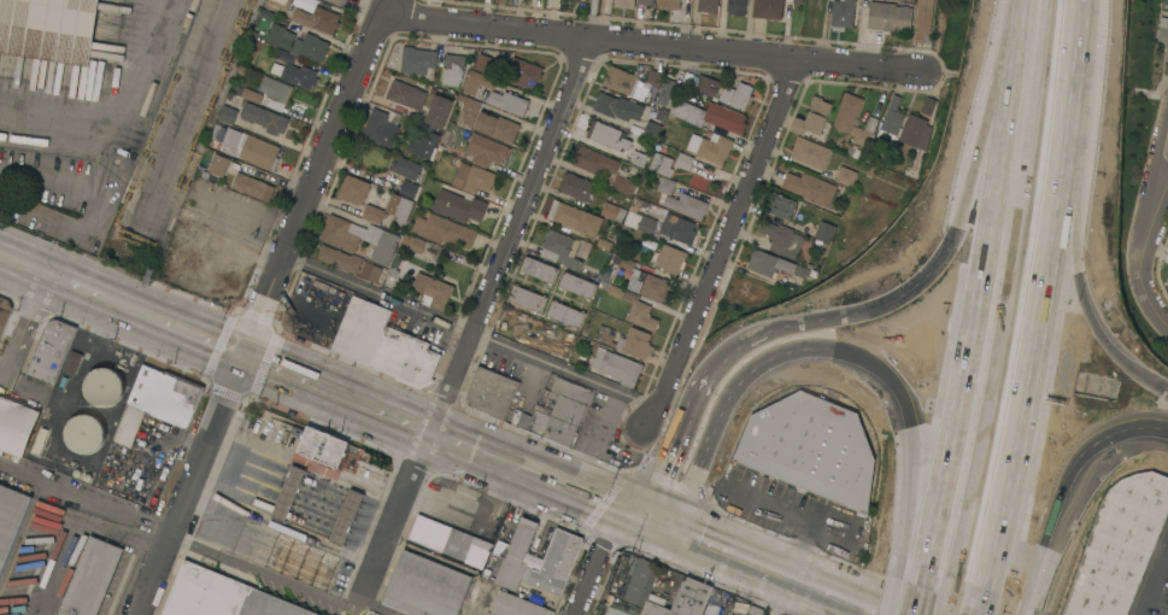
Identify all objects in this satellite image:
building: (645, 1)
building: (798, 1)
building: (281, 2)
building: (338, 2)
building: (624, 4)
building: (669, 4)
building: (708, 6)
building: (736, 6)
building: (768, 8)
building: (841, 13)
building: (888, 16)
building: (317, 18)
building: (923, 20)
building: (48, 29)
building: (1163, 33)
building: (297, 42)
road: (653, 45)
building: (284, 55)
building: (418, 61)
building: (483, 63)
building: (452, 69)
building: (522, 72)
road: (940, 72)
building: (295, 74)
building: (477, 82)
building: (632, 82)
building: (708, 86)
building: (268, 93)
building: (665, 93)
building: (743, 95)
road: (1150, 95)
building: (405, 96)
building: (507, 101)
building: (927, 105)
building: (617, 106)
building: (466, 110)
building: (439, 111)
road: (988, 111)
building: (847, 112)
building: (228, 113)
building: (709, 115)
building: (812, 116)
building: (264, 117)
building: (891, 119)
building: (380, 124)
road: (130, 125)
building: (497, 127)
building: (652, 129)
building: (912, 129)
building: (864, 131)
building: (608, 134)
building: (425, 145)
building: (247, 146)
building: (711, 146)
road: (1156, 147)
building: (486, 150)
building: (811, 152)
building: (638, 158)
building: (593, 159)
building: (683, 160)
building: (218, 164)
building: (661, 164)
building: (406, 168)
building: (846, 175)
building: (474, 177)
road: (313, 181)
road: (1163, 181)
building: (624, 183)
building: (664, 184)
building: (576, 186)
building: (253, 187)
building: (810, 187)
building: (353, 189)
building: (410, 189)
road: (1079, 192)
road: (94, 205)
building: (459, 205)
building: (687, 205)
building: (782, 205)
building: (388, 209)
building: (612, 211)
building: (575, 217)
building: (642, 223)
building: (677, 228)
building: (444, 229)
building: (824, 230)
building: (359, 238)
building: (780, 238)
building: (412, 242)
road: (723, 244)
building: (564, 248)
building: (339, 258)
building: (670, 258)
building: (622, 260)
road: (1137, 260)
building: (769, 263)
building: (204, 268)
building: (539, 269)
building: (370, 271)
building: (1167, 280)
building: (576, 285)
building: (650, 285)
road: (61, 288)
building: (433, 291)
building: (773, 291)
road: (377, 293)
building: (527, 298)
road: (994, 298)
road: (1035, 304)
building: (635, 306)
road: (481, 309)
road: (874, 309)
building: (4, 314)
building: (565, 314)
road: (22, 329)
building: (360, 329)
road: (181, 339)
building: (630, 341)
road: (810, 345)
building: (51, 350)
building: (405, 357)
building: (72, 362)
traffic signals: (237, 363)
building: (616, 365)
road: (564, 370)
road: (1150, 377)
building: (104, 386)
storage tank: (104, 386)
road: (23, 387)
traffic signals: (900, 391)
building: (491, 392)
road: (334, 398)
building: (157, 400)
building: (562, 412)
road: (683, 423)
building: (16, 426)
road: (1110, 430)
building: (84, 433)
storage tank: (84, 433)
building: (40, 440)
building: (322, 445)
building: (811, 447)
road: (694, 471)
road: (535, 478)
road: (926, 486)
road: (187, 488)
building: (287, 493)
building: (345, 516)
building: (10, 519)
traffic signals: (639, 521)
road: (803, 522)
road: (72, 529)
building: (429, 532)
road: (1028, 538)
building: (1119, 545)
building: (477, 551)
building: (516, 555)
road: (595, 557)
building: (556, 562)
road: (750, 563)
building: (90, 578)
building: (640, 581)
building: (425, 586)
road: (1155, 586)
building: (221, 596)
building: (680, 599)
road: (798, 599)
road: (910, 601)
road: (933, 603)
building: (516, 605)
building: (712, 609)
building: (756, 610)
road: (976, 610)
road: (869, 611)
building: (615, 613)
building: (492, 614)

